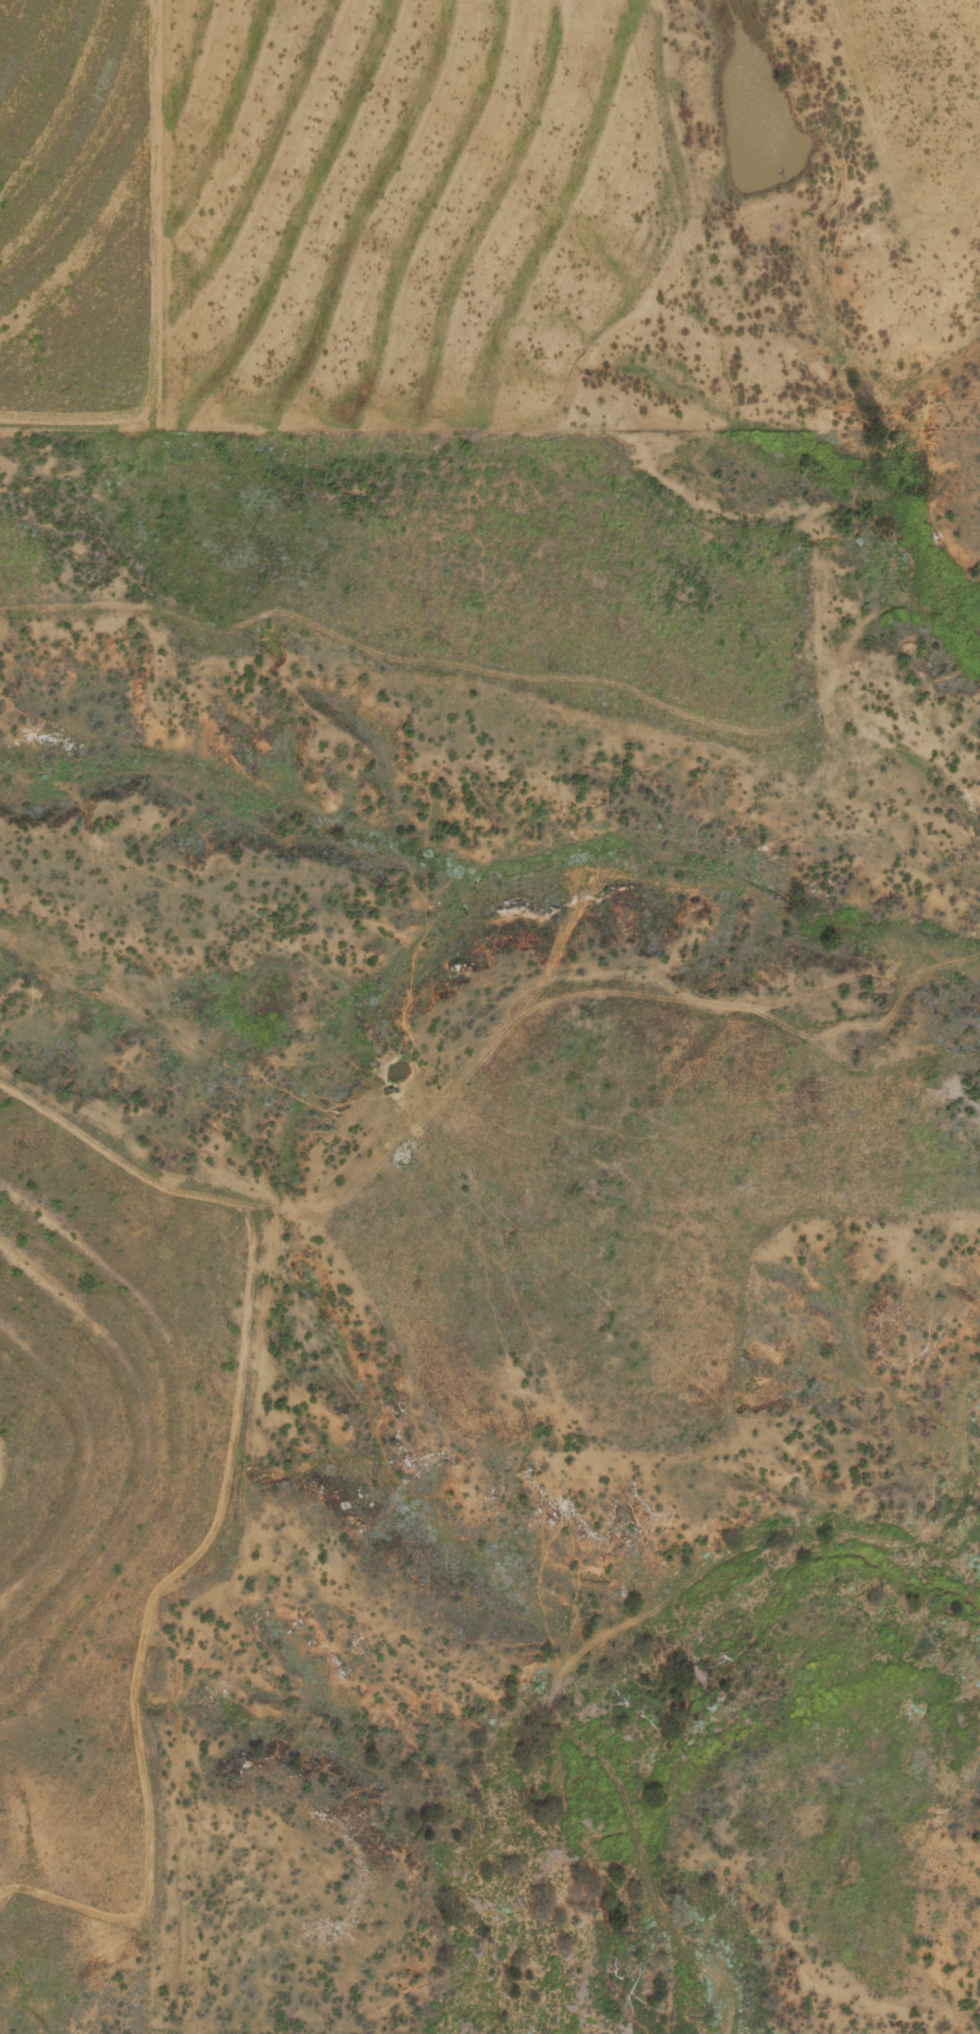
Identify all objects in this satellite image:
road: (545, 1558)

